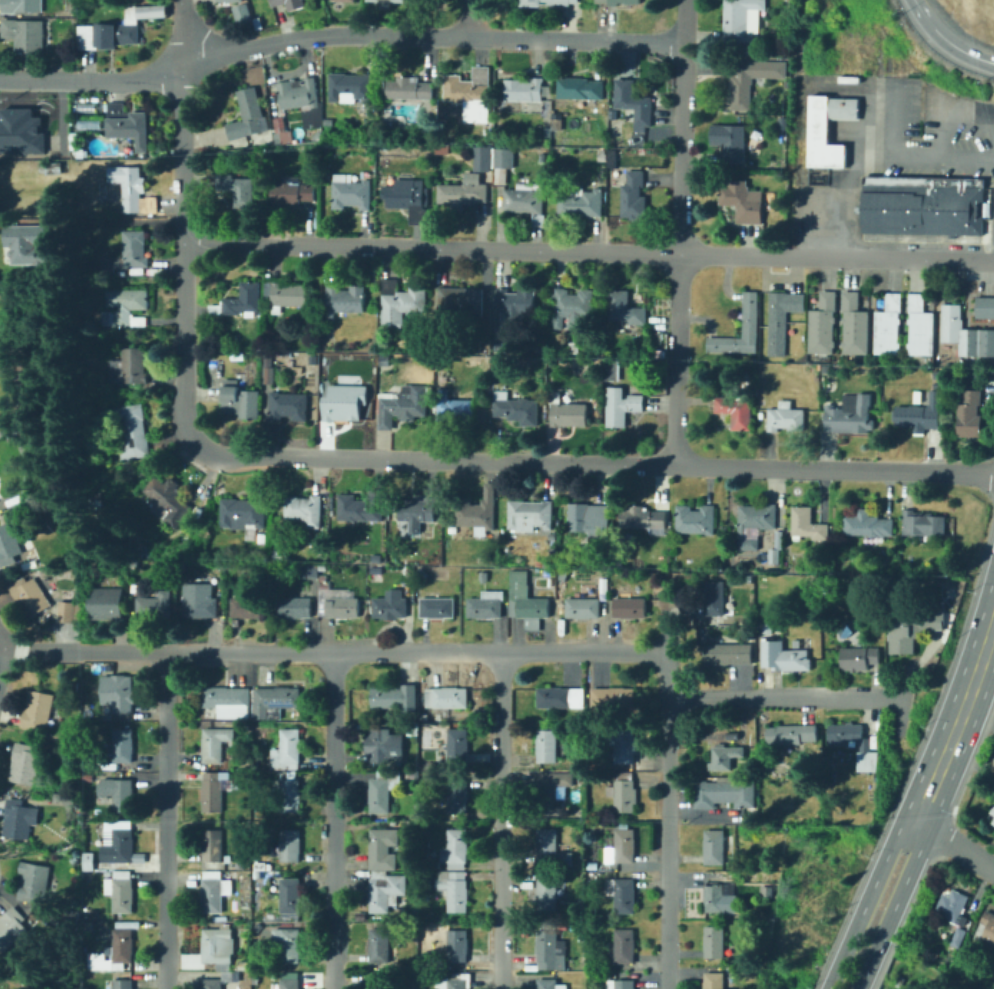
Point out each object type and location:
building: (288, 3)
building: (549, 3)
building: (619, 3)
building: (21, 7)
building: (239, 11)
building: (354, 15)
road: (472, 18)
building: (739, 18)
building: (255, 21)
building: (116, 27)
road: (429, 35)
building: (25, 36)
road: (947, 40)
building: (744, 46)
building: (758, 46)
road: (36, 67)
road: (30, 78)
road: (122, 78)
building: (740, 86)
building: (351, 87)
building: (382, 88)
building: (409, 88)
building: (580, 88)
building: (524, 89)
building: (298, 93)
building: (472, 94)
building: (634, 102)
building: (549, 114)
building: (248, 115)
road: (954, 115)
building: (127, 124)
road: (890, 126)
building: (20, 129)
building: (280, 131)
building: (820, 131)
building: (269, 140)
building: (760, 142)
building: (733, 143)
building: (232, 155)
building: (543, 156)
building: (603, 157)
road: (924, 160)
building: (496, 162)
road: (991, 166)
building: (326, 176)
building: (134, 189)
building: (238, 189)
building: (351, 191)
building: (290, 192)
building: (464, 192)
building: (635, 196)
building: (409, 198)
building: (527, 200)
building: (580, 201)
building: (743, 201)
road: (845, 206)
building: (922, 206)
road: (120, 222)
road: (181, 223)
road: (679, 231)
building: (29, 244)
building: (129, 252)
road: (587, 252)
building: (286, 294)
building: (344, 299)
building: (241, 301)
building: (401, 301)
building: (461, 301)
building: (516, 303)
building: (126, 307)
building: (574, 307)
building: (985, 307)
building: (625, 308)
building: (261, 314)
building: (749, 314)
building: (219, 318)
building: (781, 319)
building: (239, 321)
building: (823, 324)
building: (854, 324)
building: (888, 326)
building: (920, 328)
building: (966, 334)
building: (503, 346)
building: (574, 347)
building: (541, 349)
building: (287, 353)
building: (237, 356)
building: (280, 358)
building: (752, 359)
building: (385, 360)
building: (499, 361)
building: (343, 362)
building: (456, 364)
building: (598, 364)
building: (129, 367)
building: (967, 369)
building: (269, 370)
building: (613, 371)
building: (937, 373)
building: (569, 391)
building: (917, 396)
building: (239, 399)
building: (343, 404)
building: (402, 404)
building: (288, 406)
building: (622, 406)
building: (516, 408)
building: (457, 409)
building: (735, 411)
building: (568, 412)
building: (850, 414)
building: (920, 414)
building: (970, 415)
building: (785, 417)
building: (132, 430)
road: (593, 460)
building: (167, 500)
building: (361, 507)
building: (303, 511)
building: (417, 512)
building: (477, 512)
building: (242, 513)
building: (529, 515)
building: (643, 518)
building: (695, 518)
building: (589, 519)
building: (754, 523)
building: (922, 523)
building: (807, 524)
building: (867, 524)
building: (190, 530)
building: (261, 538)
building: (163, 543)
building: (8, 545)
building: (281, 556)
building: (773, 556)
building: (376, 557)
building: (539, 563)
building: (323, 567)
building: (730, 569)
building: (309, 572)
building: (376, 574)
building: (421, 574)
building: (563, 574)
building: (654, 576)
building: (483, 577)
building: (749, 578)
building: (181, 590)
building: (29, 595)
building: (714, 597)
building: (337, 601)
building: (527, 603)
building: (390, 605)
building: (156, 606)
building: (486, 606)
building: (202, 607)
building: (296, 607)
building: (108, 608)
building: (249, 608)
building: (438, 608)
building: (586, 608)
building: (629, 608)
building: (68, 612)
building: (228, 616)
road: (993, 617)
building: (767, 628)
building: (913, 631)
road: (327, 651)
building: (729, 655)
road: (3, 658)
building: (860, 659)
building: (785, 660)
road: (921, 685)
building: (123, 696)
road: (772, 696)
building: (394, 697)
building: (447, 697)
building: (561, 697)
building: (613, 697)
building: (227, 701)
building: (273, 702)
building: (37, 709)
building: (481, 715)
road: (956, 720)
building: (791, 733)
building: (733, 735)
building: (491, 742)
building: (216, 743)
building: (123, 745)
building: (384, 745)
building: (547, 746)
building: (456, 747)
building: (626, 747)
building: (865, 748)
building: (287, 750)
building: (725, 756)
building: (583, 762)
building: (24, 763)
building: (255, 763)
building: (430, 765)
building: (97, 773)
building: (258, 774)
building: (599, 775)
building: (87, 778)
building: (383, 789)
building: (213, 790)
building: (552, 791)
building: (118, 792)
building: (624, 792)
building: (726, 793)
building: (458, 795)
building: (291, 796)
building: (70, 800)
building: (992, 810)
building: (20, 818)
road: (666, 819)
road: (166, 820)
road: (330, 820)
road: (499, 820)
building: (993, 821)
building: (118, 842)
building: (425, 844)
road: (954, 844)
building: (624, 845)
building: (291, 846)
building: (383, 847)
building: (714, 847)
building: (211, 848)
building: (456, 850)
building: (551, 851)
building: (140, 857)
building: (236, 864)
building: (592, 865)
building: (89, 866)
building: (108, 873)
building: (87, 877)
building: (33, 880)
building: (766, 888)
building: (452, 889)
building: (121, 890)
building: (386, 890)
building: (215, 892)
building: (621, 894)
building: (713, 894)
building: (546, 896)
building: (290, 897)
road: (865, 901)
road: (892, 906)
building: (952, 906)
building: (768, 910)
building: (93, 914)
building: (610, 916)
building: (226, 925)
building: (12, 926)
building: (428, 927)
building: (988, 929)
building: (958, 937)
building: (715, 942)
building: (379, 945)
building: (457, 945)
building: (219, 946)
building: (290, 946)
building: (624, 946)
building: (550, 950)
building: (113, 952)
building: (570, 962)
building: (210, 966)
building: (73, 972)
building: (605, 974)
park: (912, 974)
building: (220, 980)
building: (379, 980)
building: (290, 981)
building: (454, 981)
building: (715, 981)
building: (41, 984)
building: (122, 984)
building: (550, 984)
building: (620, 984)
building: (726, 988)

